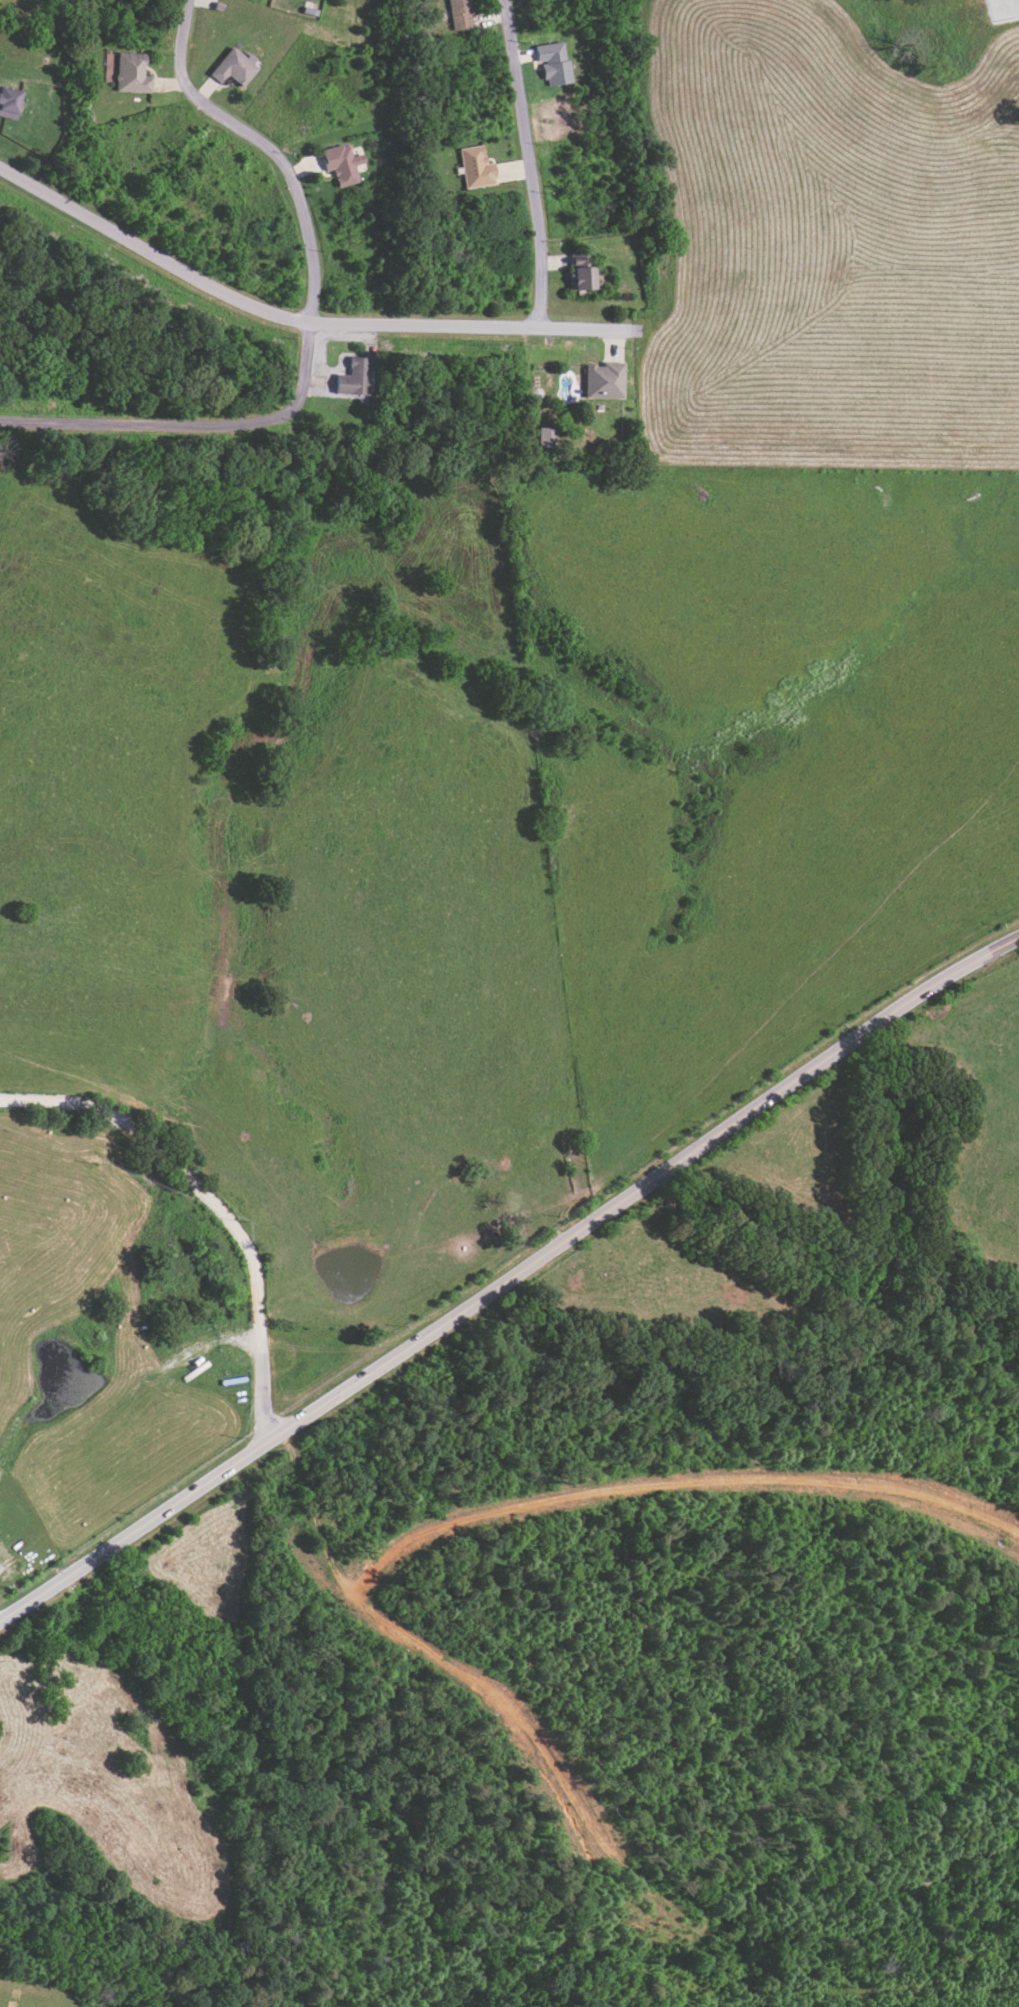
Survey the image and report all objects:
building: (459, 14)
building: (553, 63)
building: (235, 67)
building: (132, 73)
building: (9, 102)
road: (265, 146)
road: (529, 162)
building: (342, 163)
building: (476, 167)
road: (297, 320)
building: (355, 377)
building: (604, 380)
road: (193, 430)
building: (546, 437)
road: (216, 1204)
road: (509, 1278)

